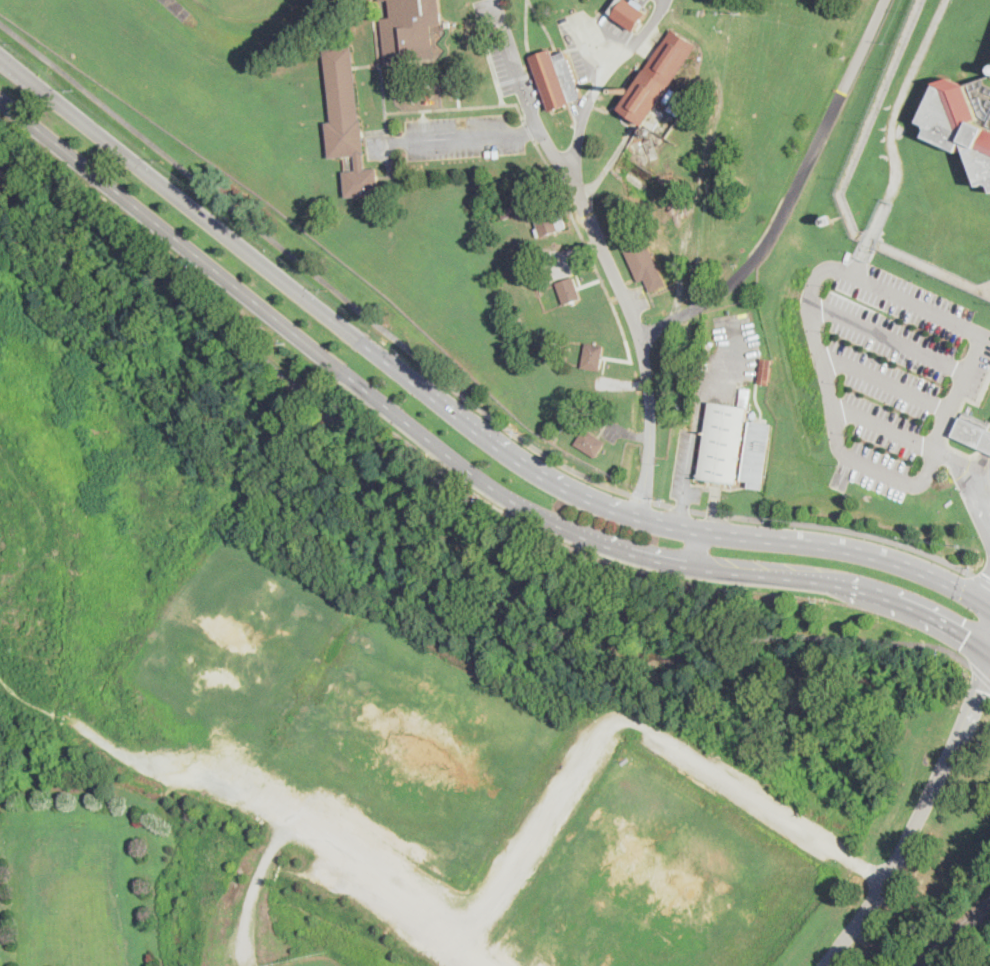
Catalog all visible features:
building: (383, 0)
parking lot: (645, 0)
building: (629, 13)
building: (410, 29)
parking lot: (597, 42)
road: (591, 47)
road: (530, 54)
parking lot: (509, 56)
building: (558, 76)
road: (600, 80)
building: (658, 80)
building: (348, 123)
building: (958, 124)
parking lot: (461, 136)
road: (474, 136)
road: (793, 194)
building: (507, 214)
building: (549, 219)
building: (832, 220)
road: (603, 251)
building: (642, 257)
road: (828, 266)
road: (308, 268)
building: (569, 291)
road: (887, 336)
parking lot: (736, 338)
building: (593, 357)
parking lot: (888, 370)
building: (766, 371)
road: (884, 382)
road: (455, 412)
road: (882, 426)
parking lot: (612, 430)
building: (972, 430)
building: (590, 443)
building: (723, 443)
building: (987, 443)
road: (693, 449)
building: (757, 454)
road: (453, 458)
parking lot: (681, 463)
road: (963, 466)
road: (641, 497)
road: (438, 504)
road: (816, 525)
road: (982, 579)
traffic signals: (968, 635)
road: (980, 675)
park: (407, 684)
traffic signals: (982, 689)
road: (971, 714)
road: (626, 722)
road: (892, 870)
park: (75, 887)
road: (400, 893)
railway: (954, 935)

